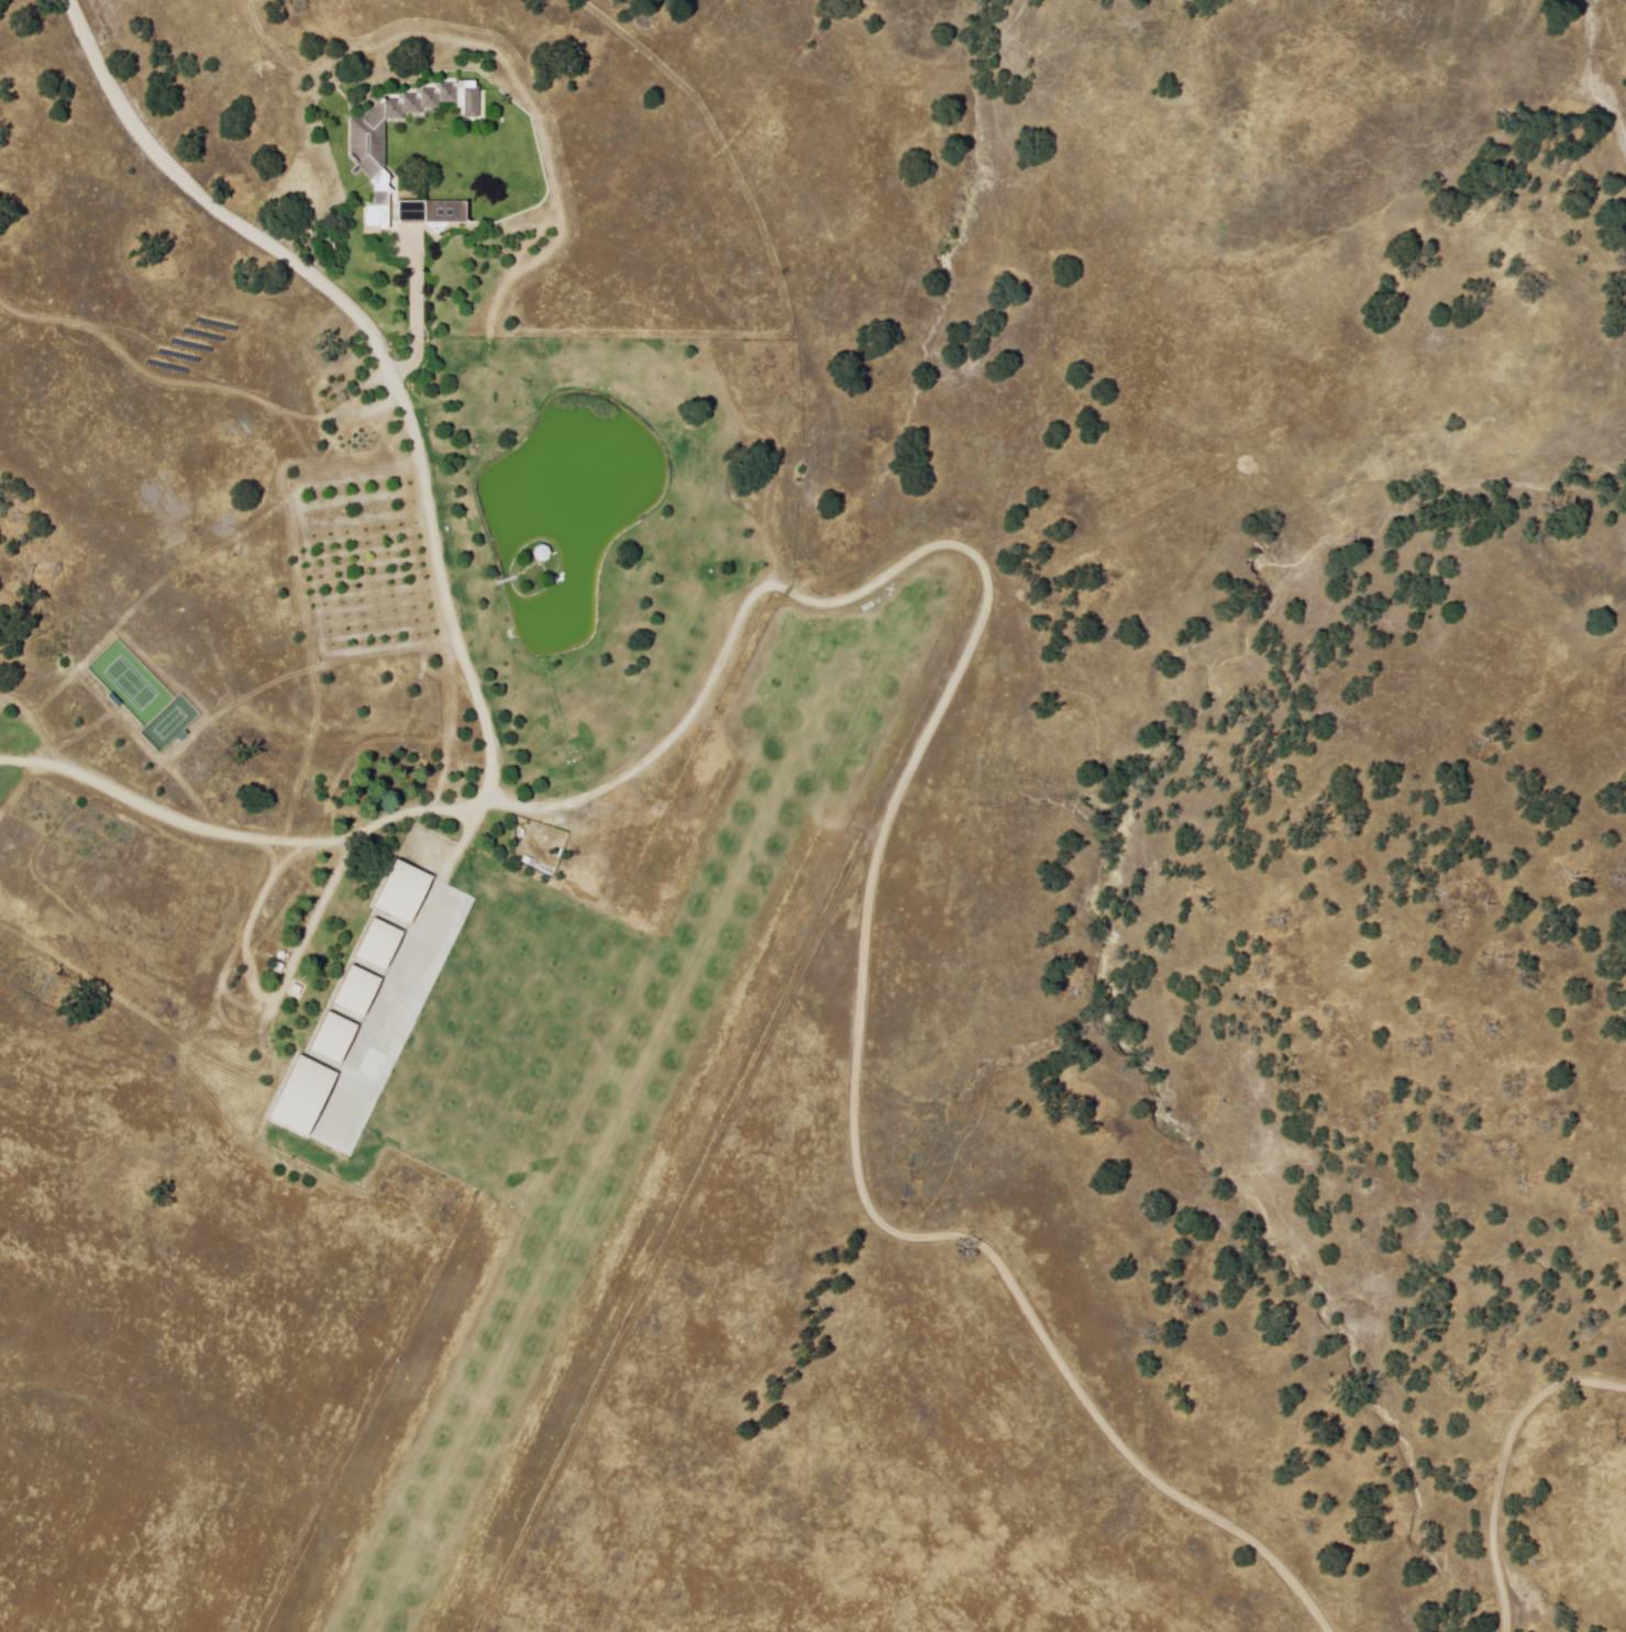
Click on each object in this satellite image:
building: (364, 141)
building: (430, 212)
road: (776, 274)
building: (541, 551)
road: (439, 589)
airport runway: (871, 620)
park: (144, 697)
road: (875, 886)
airport hangar: (402, 893)
building: (402, 893)
airport hangar: (378, 946)
building: (378, 946)
airport hangar: (355, 992)
building: (355, 992)
airport apron: (368, 1011)
airport hangar: (332, 1039)
building: (332, 1039)
airport apron: (496, 1040)
airport: (575, 1087)
airport hangar: (300, 1098)
building: (300, 1098)
road: (1504, 1466)

